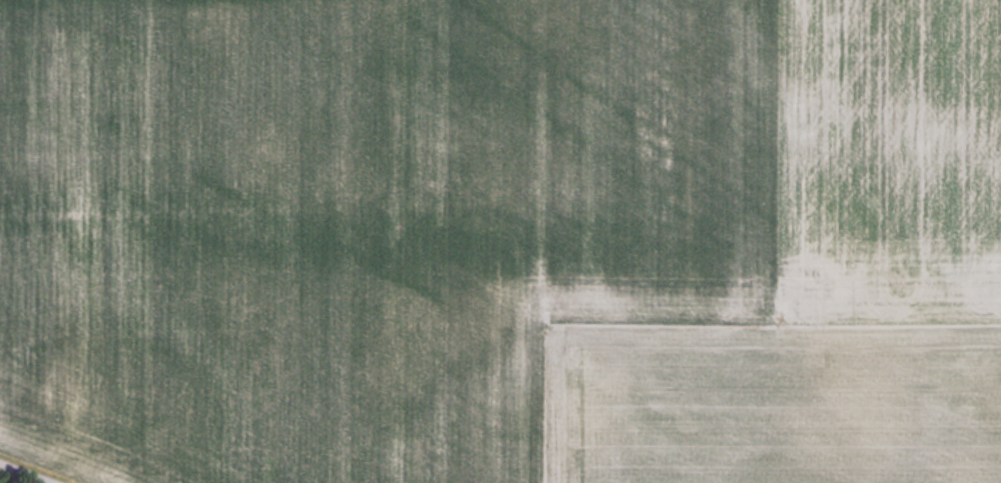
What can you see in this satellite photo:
road: (23, 473)

